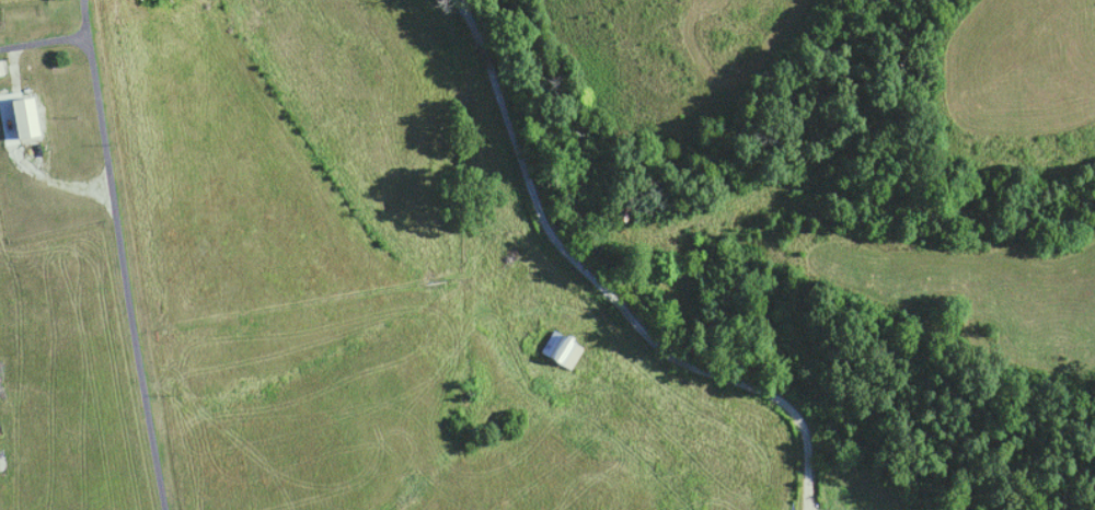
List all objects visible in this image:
road: (84, 21)
road: (112, 234)
road: (606, 293)
road: (339, 327)

